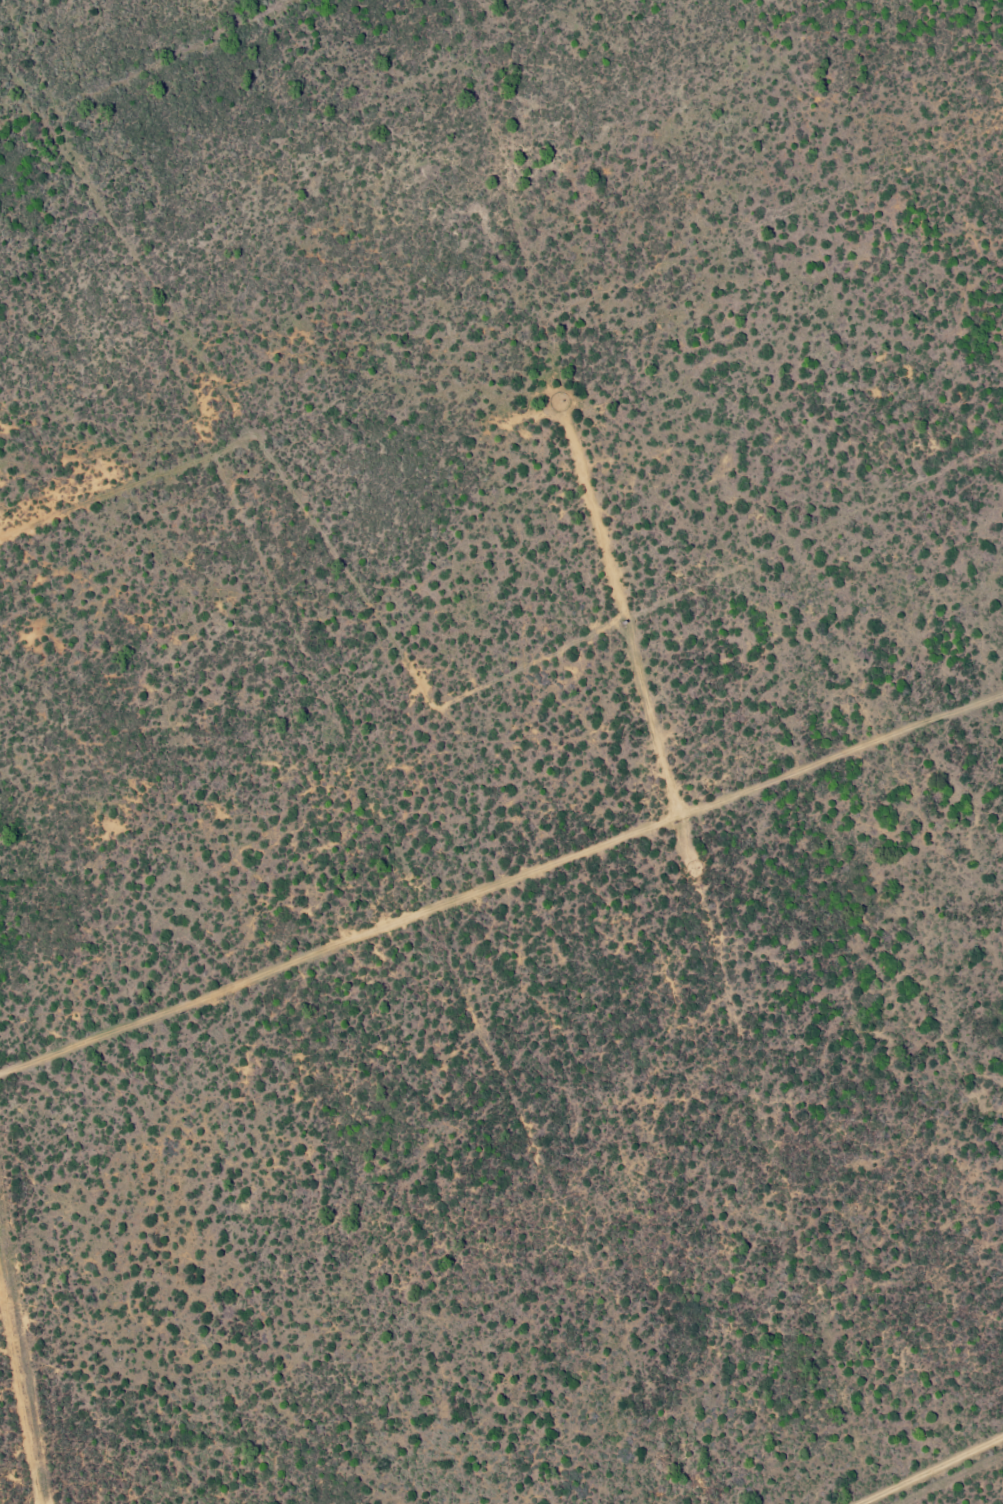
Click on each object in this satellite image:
road: (941, 1473)

